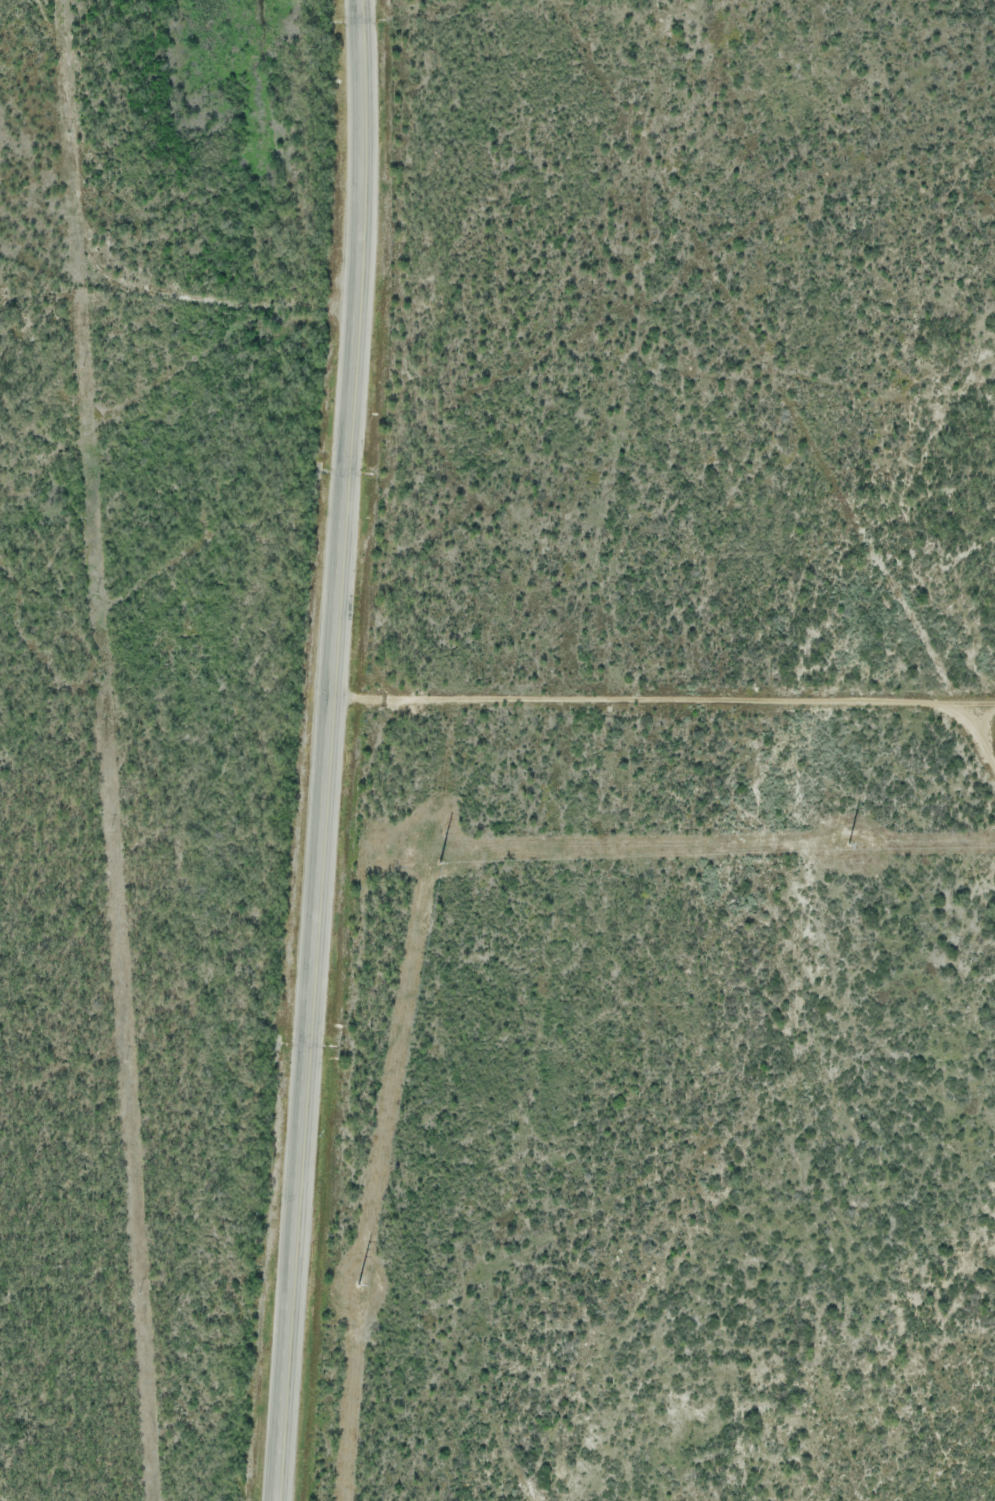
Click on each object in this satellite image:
road: (110, 243)
road: (331, 750)
power tower: (851, 843)
power tower: (442, 863)
power tower: (359, 1285)

